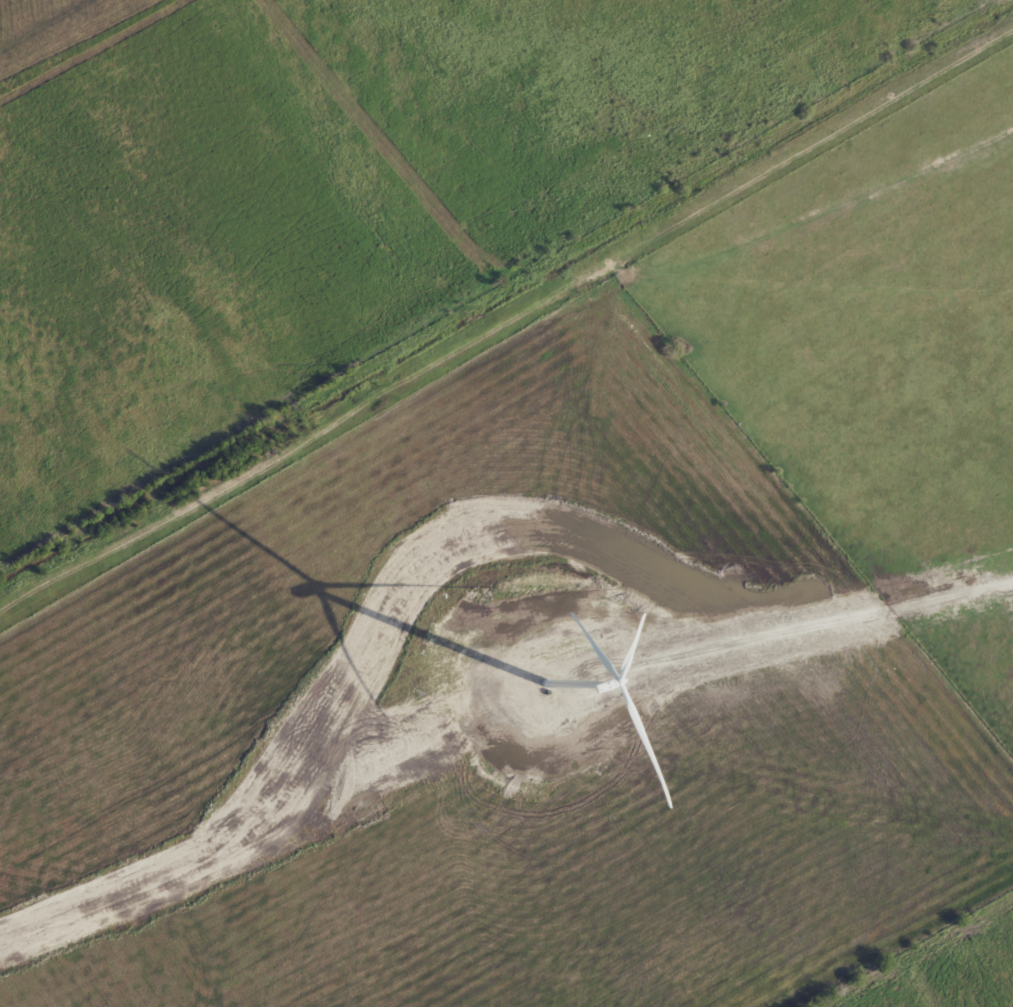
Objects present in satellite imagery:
road: (796, 625)
wind turbine: (545, 697)

